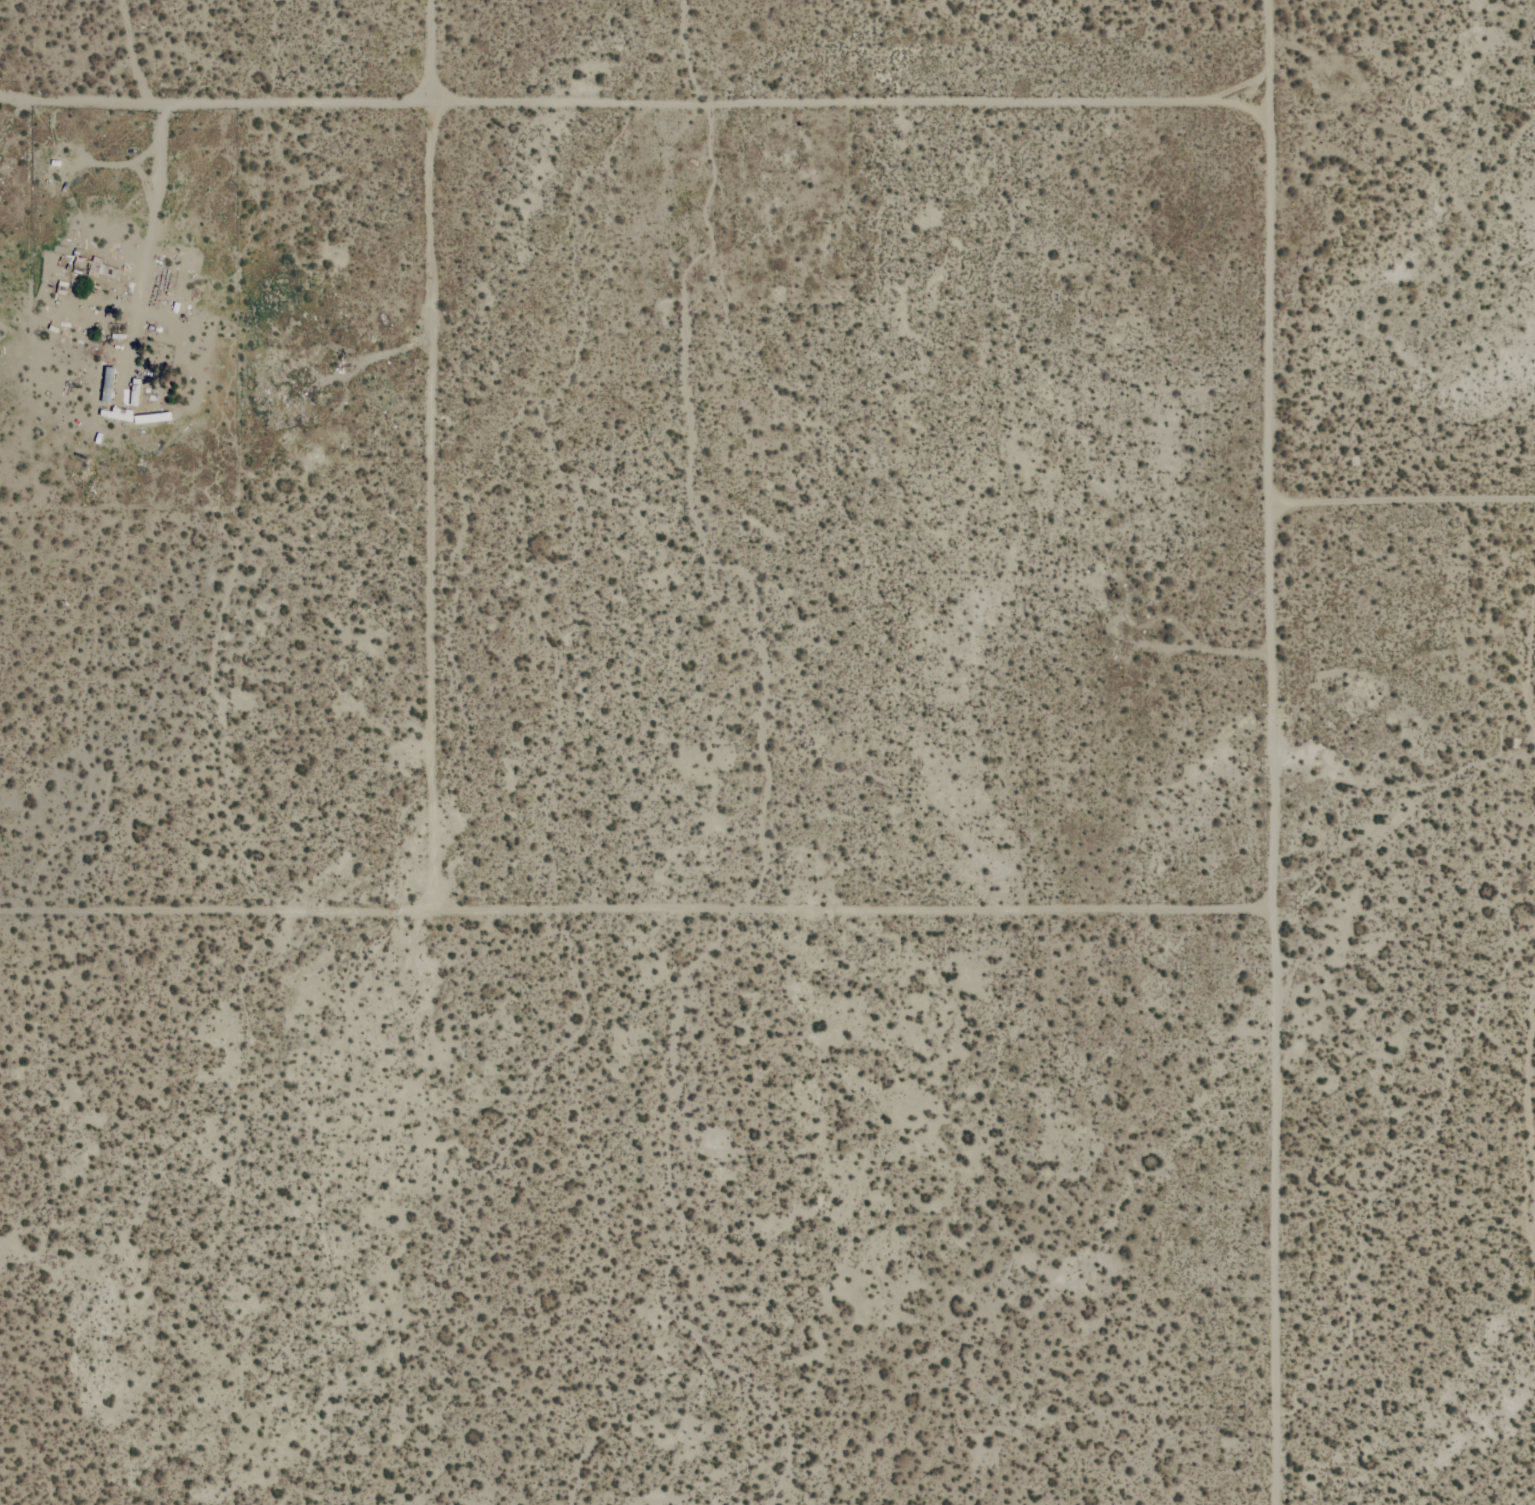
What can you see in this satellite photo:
road: (183, 106)
road: (431, 456)
road: (1406, 499)
road: (1269, 752)
road: (632, 913)

